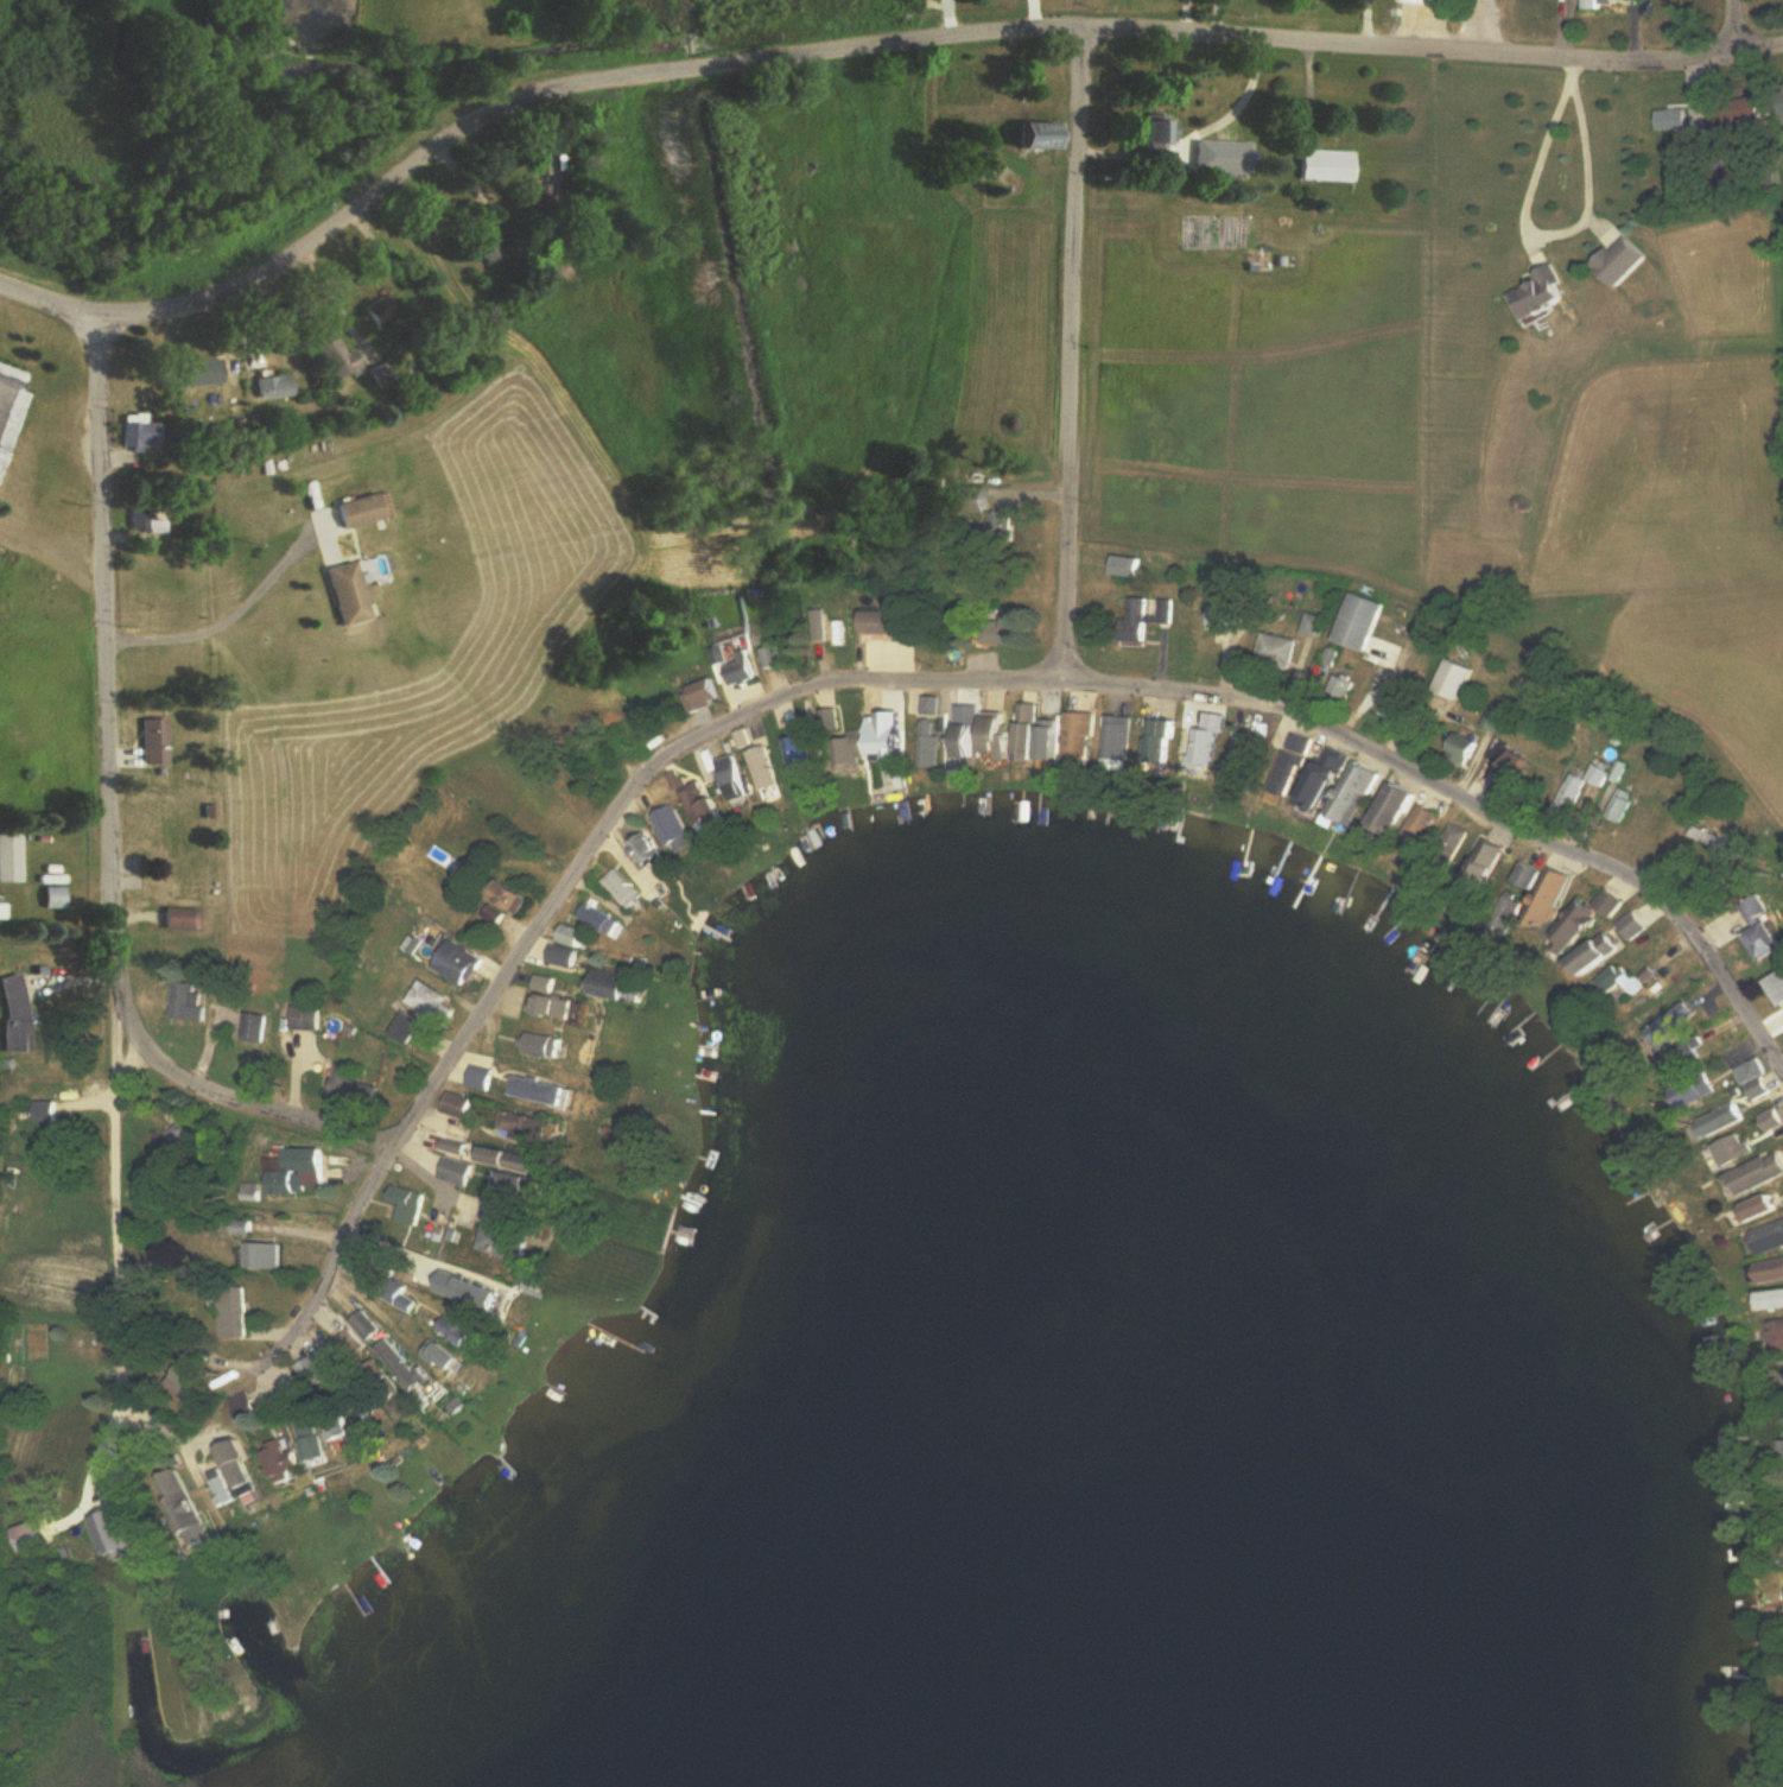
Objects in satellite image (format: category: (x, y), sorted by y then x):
building: (1427, 1)
building: (1598, 4)
road: (1736, 26)
road: (856, 52)
building: (1736, 116)
building: (1674, 120)
building: (1165, 132)
building: (1226, 154)
building: (1330, 165)
building: (538, 196)
road: (1536, 228)
building: (494, 251)
building: (1540, 296)
building: (387, 311)
building: (344, 359)
road: (1075, 360)
building: (207, 370)
building: (278, 386)
building: (12, 408)
building: (145, 433)
building: (370, 509)
building: (148, 521)
building: (354, 593)
building: (1217, 614)
building: (1142, 616)
road: (226, 617)
building: (1354, 621)
building: (839, 625)
building: (1002, 628)
building: (1274, 648)
building: (774, 658)
building: (737, 668)
building: (830, 720)
building: (998, 734)
building: (1039, 734)
building: (1080, 734)
building: (880, 736)
building: (1117, 737)
building: (1208, 740)
building: (157, 741)
building: (967, 741)
building: (1165, 741)
building: (929, 744)
building: (851, 747)
building: (1295, 748)
building: (1459, 749)
building: (805, 752)
building: (1249, 752)
building: (1508, 765)
building: (767, 768)
building: (1601, 773)
building: (736, 778)
building: (1341, 786)
building: (1569, 792)
building: (702, 804)
building: (1623, 804)
building: (1391, 809)
building: (1415, 824)
building: (173, 830)
building: (675, 830)
road: (603, 837)
building: (1712, 839)
building: (1445, 843)
building: (649, 850)
building: (12, 857)
building: (1483, 864)
building: (1525, 875)
building: (620, 888)
building: (514, 896)
building: (1549, 896)
building: (58, 898)
building: (185, 918)
building: (601, 919)
building: (1584, 920)
building: (1630, 926)
building: (1760, 930)
building: (577, 936)
building: (1597, 953)
building: (569, 956)
building: (459, 961)
building: (1612, 977)
building: (551, 983)
building: (616, 984)
building: (1778, 986)
building: (190, 1001)
building: (558, 1007)
building: (442, 1009)
building: (18, 1014)
building: (304, 1019)
building: (253, 1027)
building: (1676, 1027)
building: (546, 1046)
building: (1694, 1056)
building: (484, 1079)
building: (1759, 1081)
building: (355, 1088)
building: (542, 1091)
building: (1699, 1092)
building: (459, 1105)
building: (42, 1111)
building: (1736, 1119)
building: (1775, 1120)
building: (528, 1128)
building: (179, 1133)
building: (457, 1147)
building: (1741, 1147)
building: (521, 1160)
building: (341, 1161)
building: (459, 1171)
building: (299, 1172)
building: (1760, 1176)
building: (522, 1185)
building: (407, 1204)
building: (1764, 1208)
building: (505, 1230)
building: (1768, 1236)
road: (113, 1240)
building: (266, 1256)
road: (332, 1257)
building: (1769, 1270)
building: (400, 1297)
building: (1774, 1300)
building: (231, 1313)
building: (366, 1326)
building: (467, 1332)
building: (1778, 1333)
building: (30, 1342)
building: (349, 1344)
building: (450, 1357)
building: (313, 1367)
building: (406, 1367)
building: (189, 1380)
building: (245, 1408)
building: (342, 1427)
building: (311, 1438)
building: (281, 1459)
building: (230, 1469)
building: (215, 1495)
building: (177, 1507)
building: (112, 1533)
building: (36, 1534)

